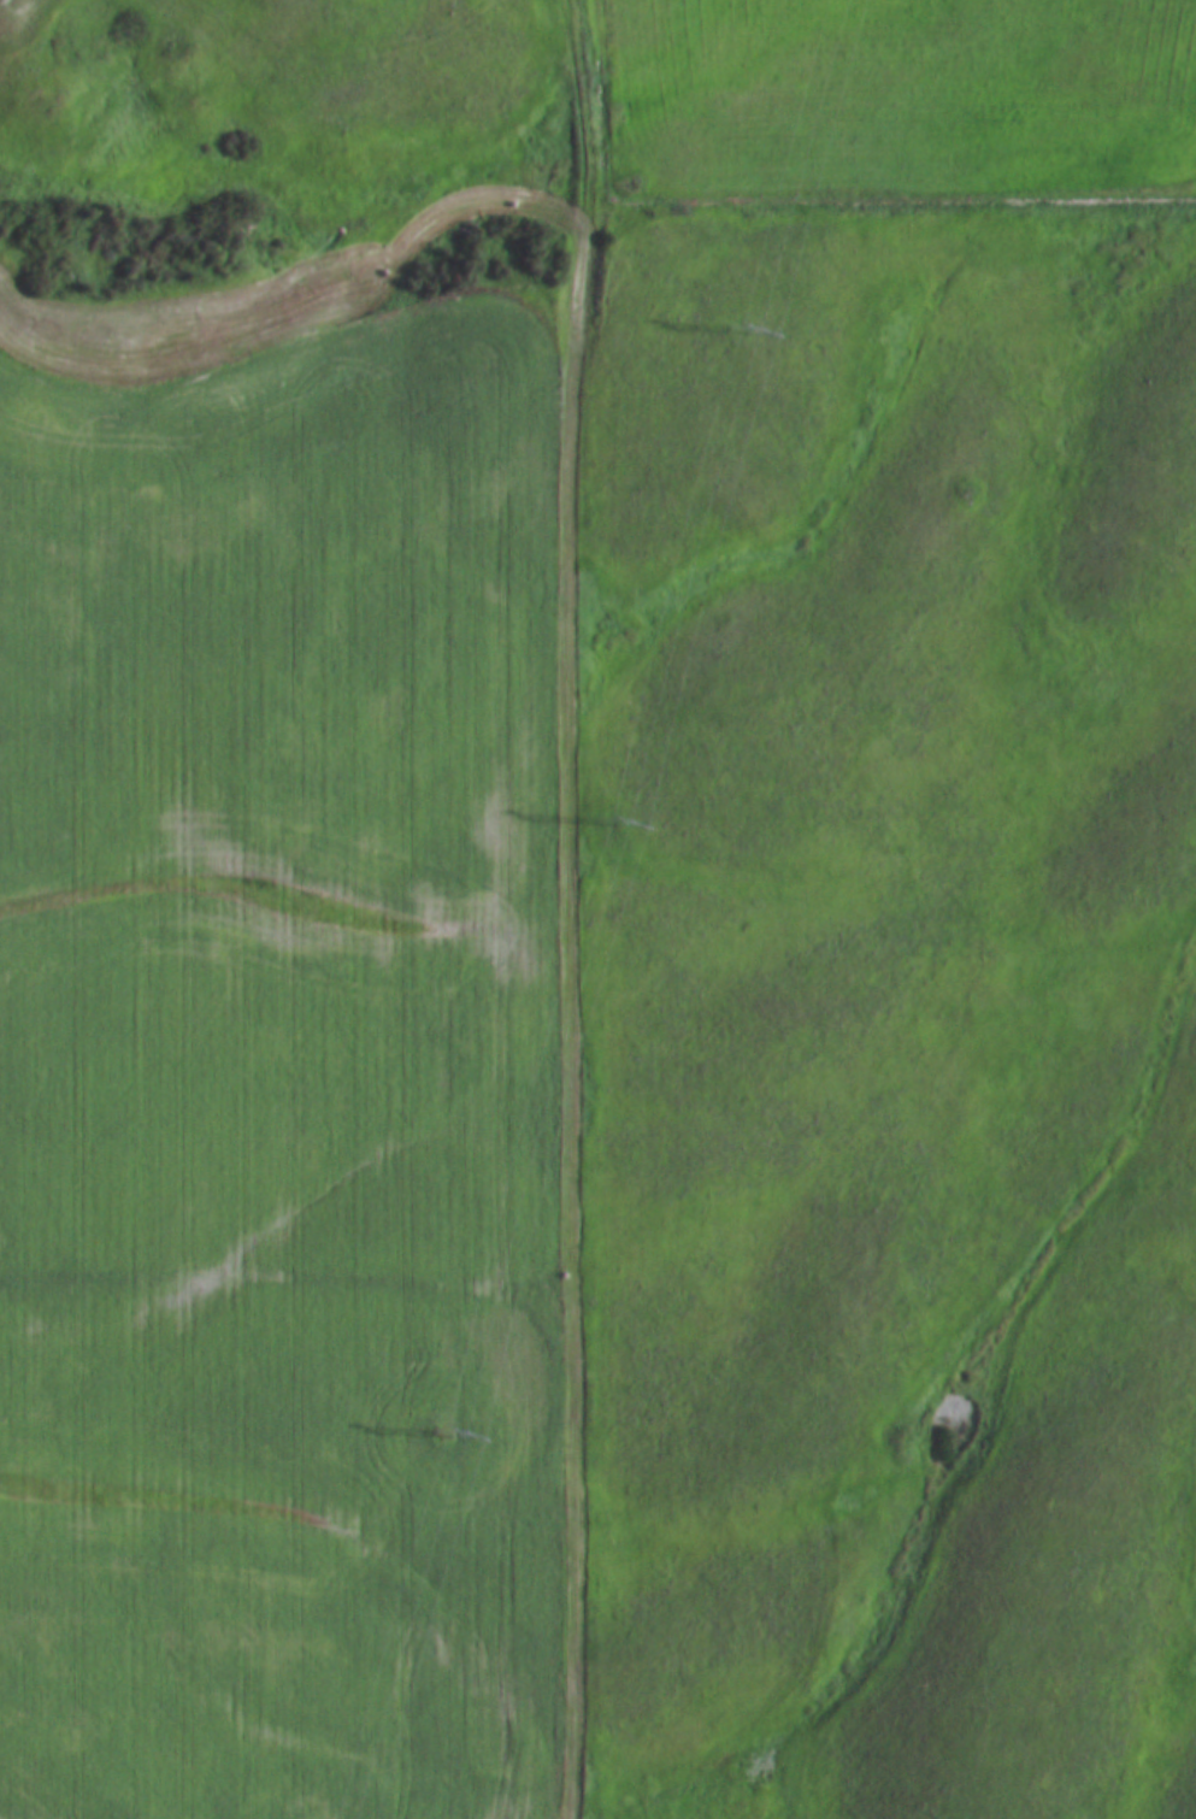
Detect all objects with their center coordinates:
power tower: (742, 334)
power tower: (609, 816)
road: (564, 908)
power tower: (446, 1430)

